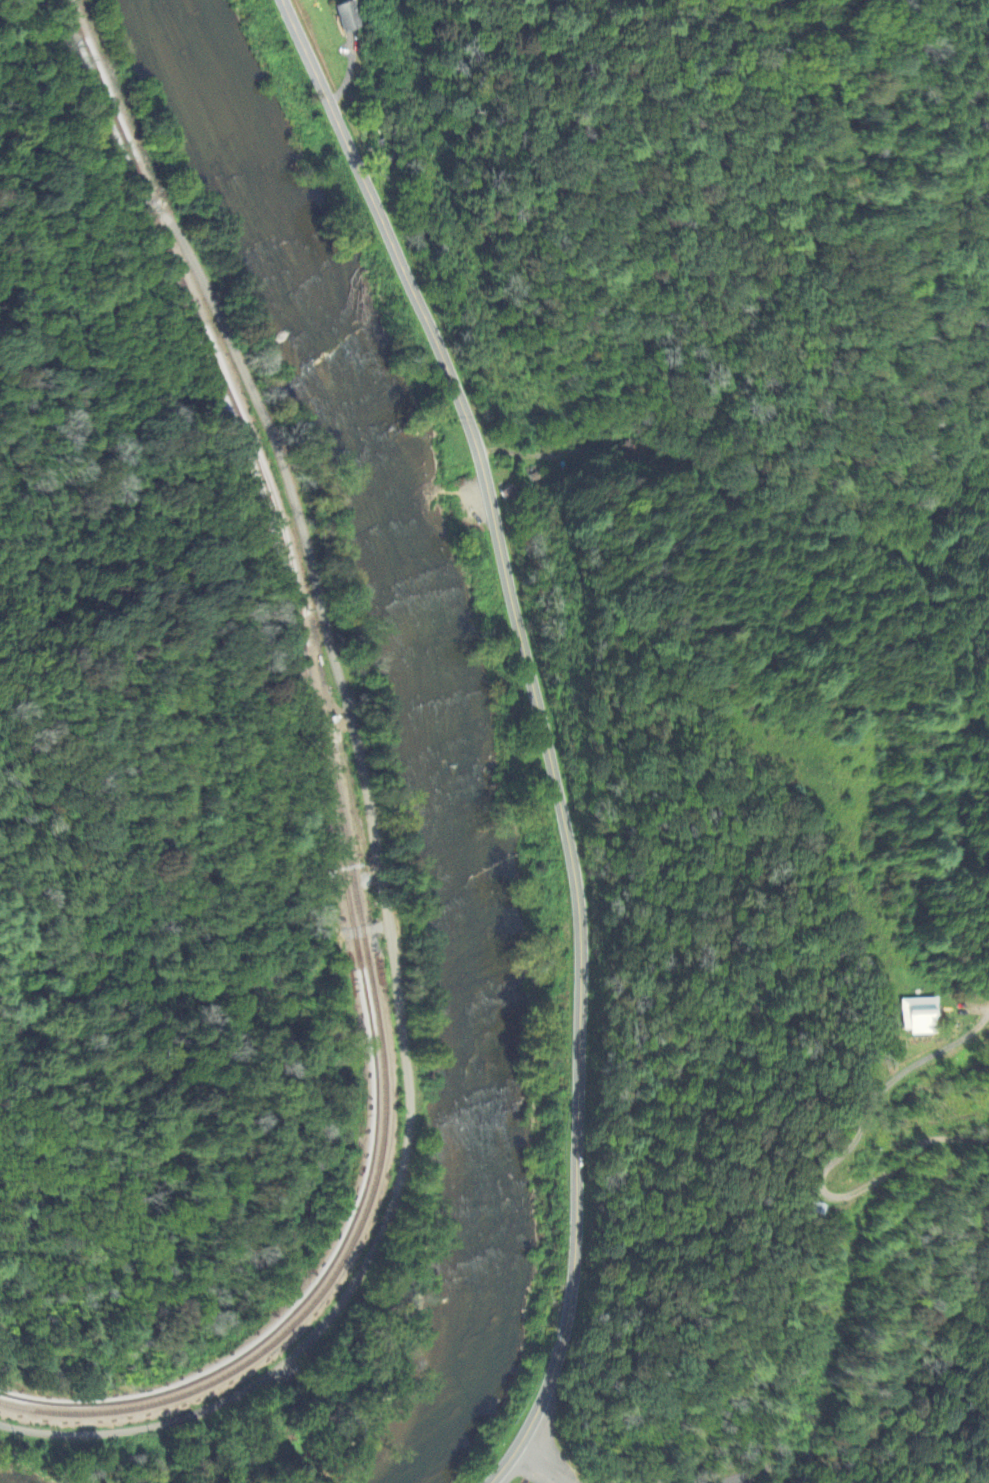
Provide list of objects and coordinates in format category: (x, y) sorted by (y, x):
building: (350, 17)
building: (624, 454)
river: (449, 712)
road: (545, 729)
railway: (336, 809)
road: (369, 817)
building: (919, 1018)
building: (815, 1210)
road: (535, 1468)

